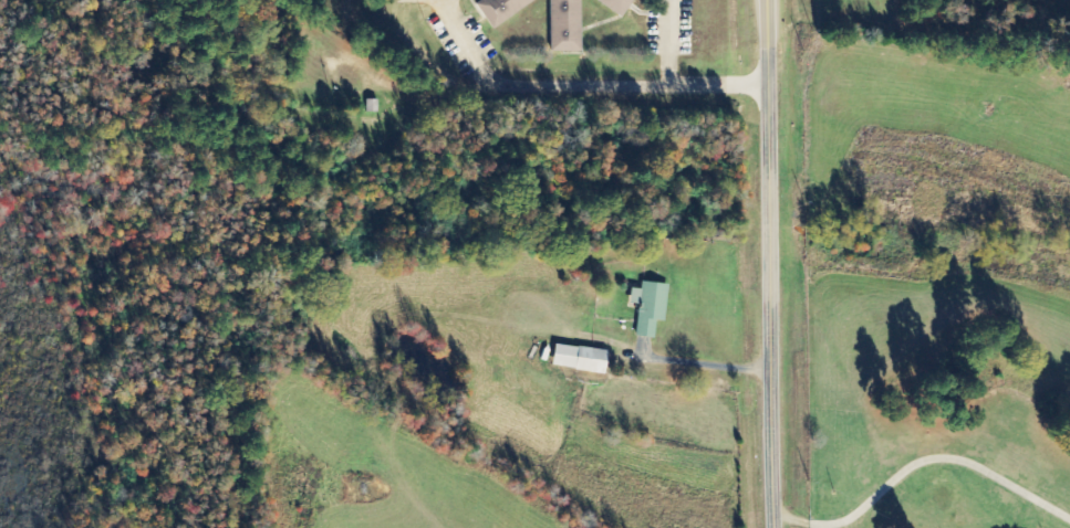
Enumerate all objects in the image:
building: (612, 6)
building: (497, 9)
building: (562, 25)
road: (528, 85)
road: (674, 85)
building: (368, 105)
road: (768, 264)
building: (646, 307)
building: (574, 359)

